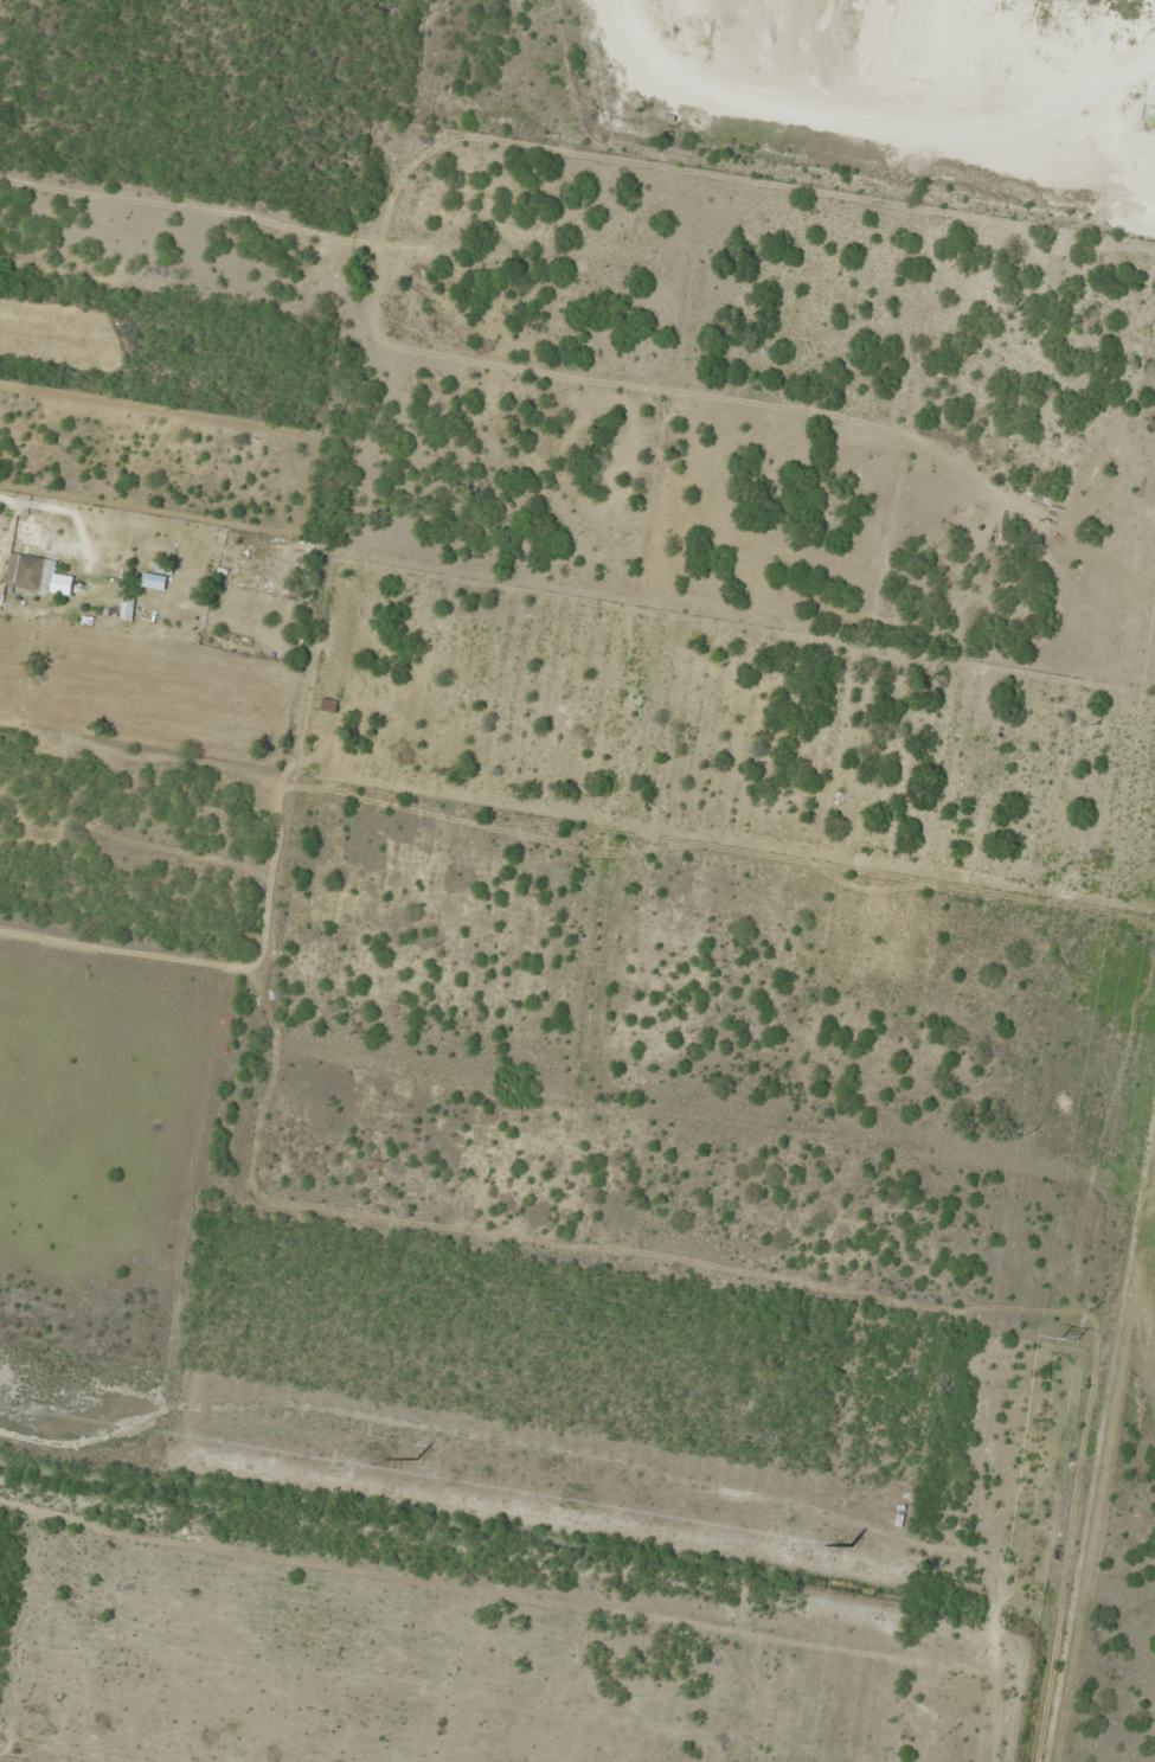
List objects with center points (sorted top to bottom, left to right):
road: (577, 293)
road: (32, 502)
building: (0, 568)
road: (86, 570)
building: (28, 574)
road: (20, 607)
power tower: (1066, 1338)
road: (1092, 1390)
power tower: (417, 1459)
power tower: (853, 1546)

